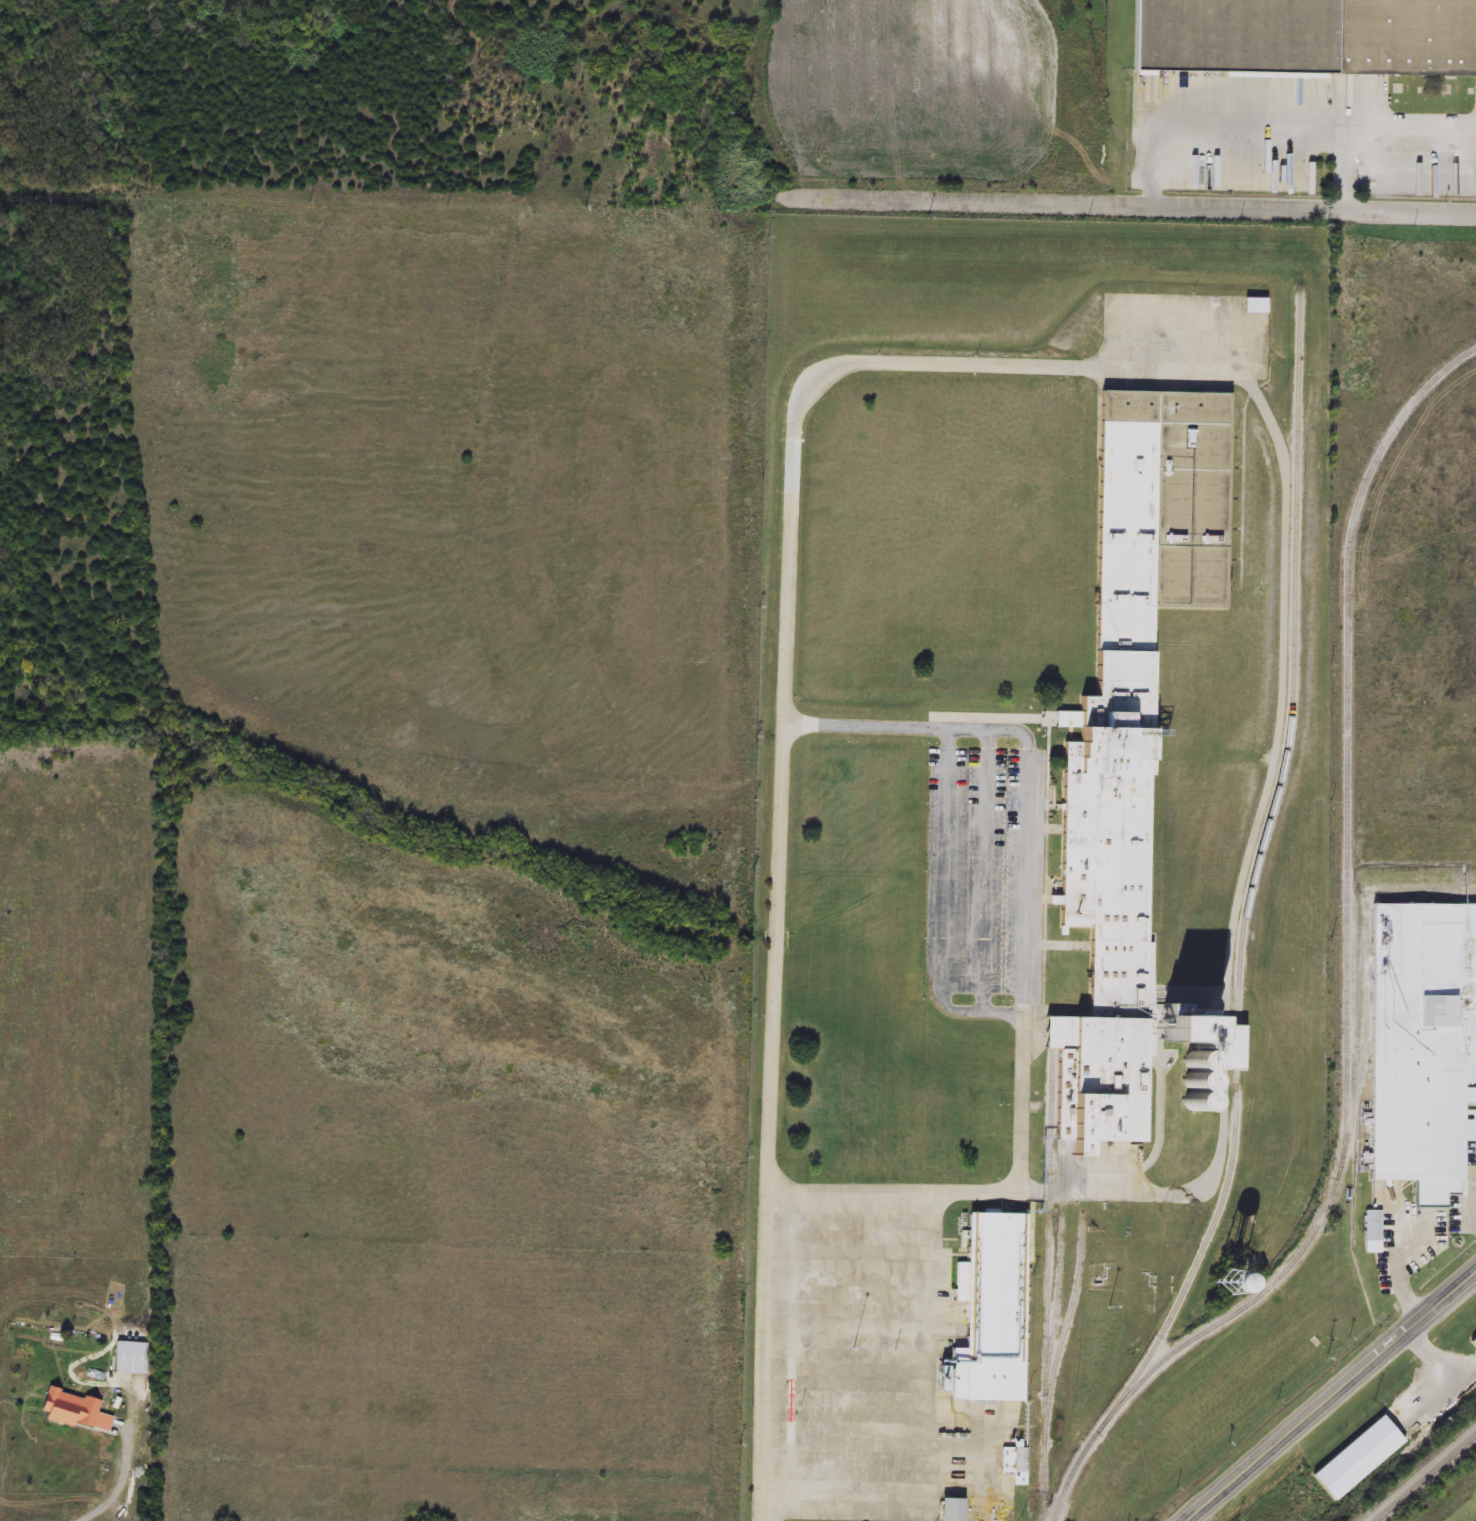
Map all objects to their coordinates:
building: (1305, 37)
road: (1249, 138)
road: (1376, 140)
road: (1128, 208)
road: (1237, 368)
road: (914, 717)
road: (778, 779)
railway: (1257, 874)
railway: (1348, 970)
road: (1019, 1015)
building: (1421, 1044)
road: (977, 1193)
building: (1373, 1232)
railway: (1062, 1270)
building: (1210, 1280)
railway: (1050, 1286)
building: (992, 1310)
railway: (1068, 1325)
building: (130, 1358)
road: (1332, 1397)
power tower: (1373, 1405)
building: (75, 1411)
road: (932, 1426)
building: (1021, 1461)
railway: (1420, 1473)
railway: (1427, 1479)
road: (120, 1483)
building: (951, 1509)

